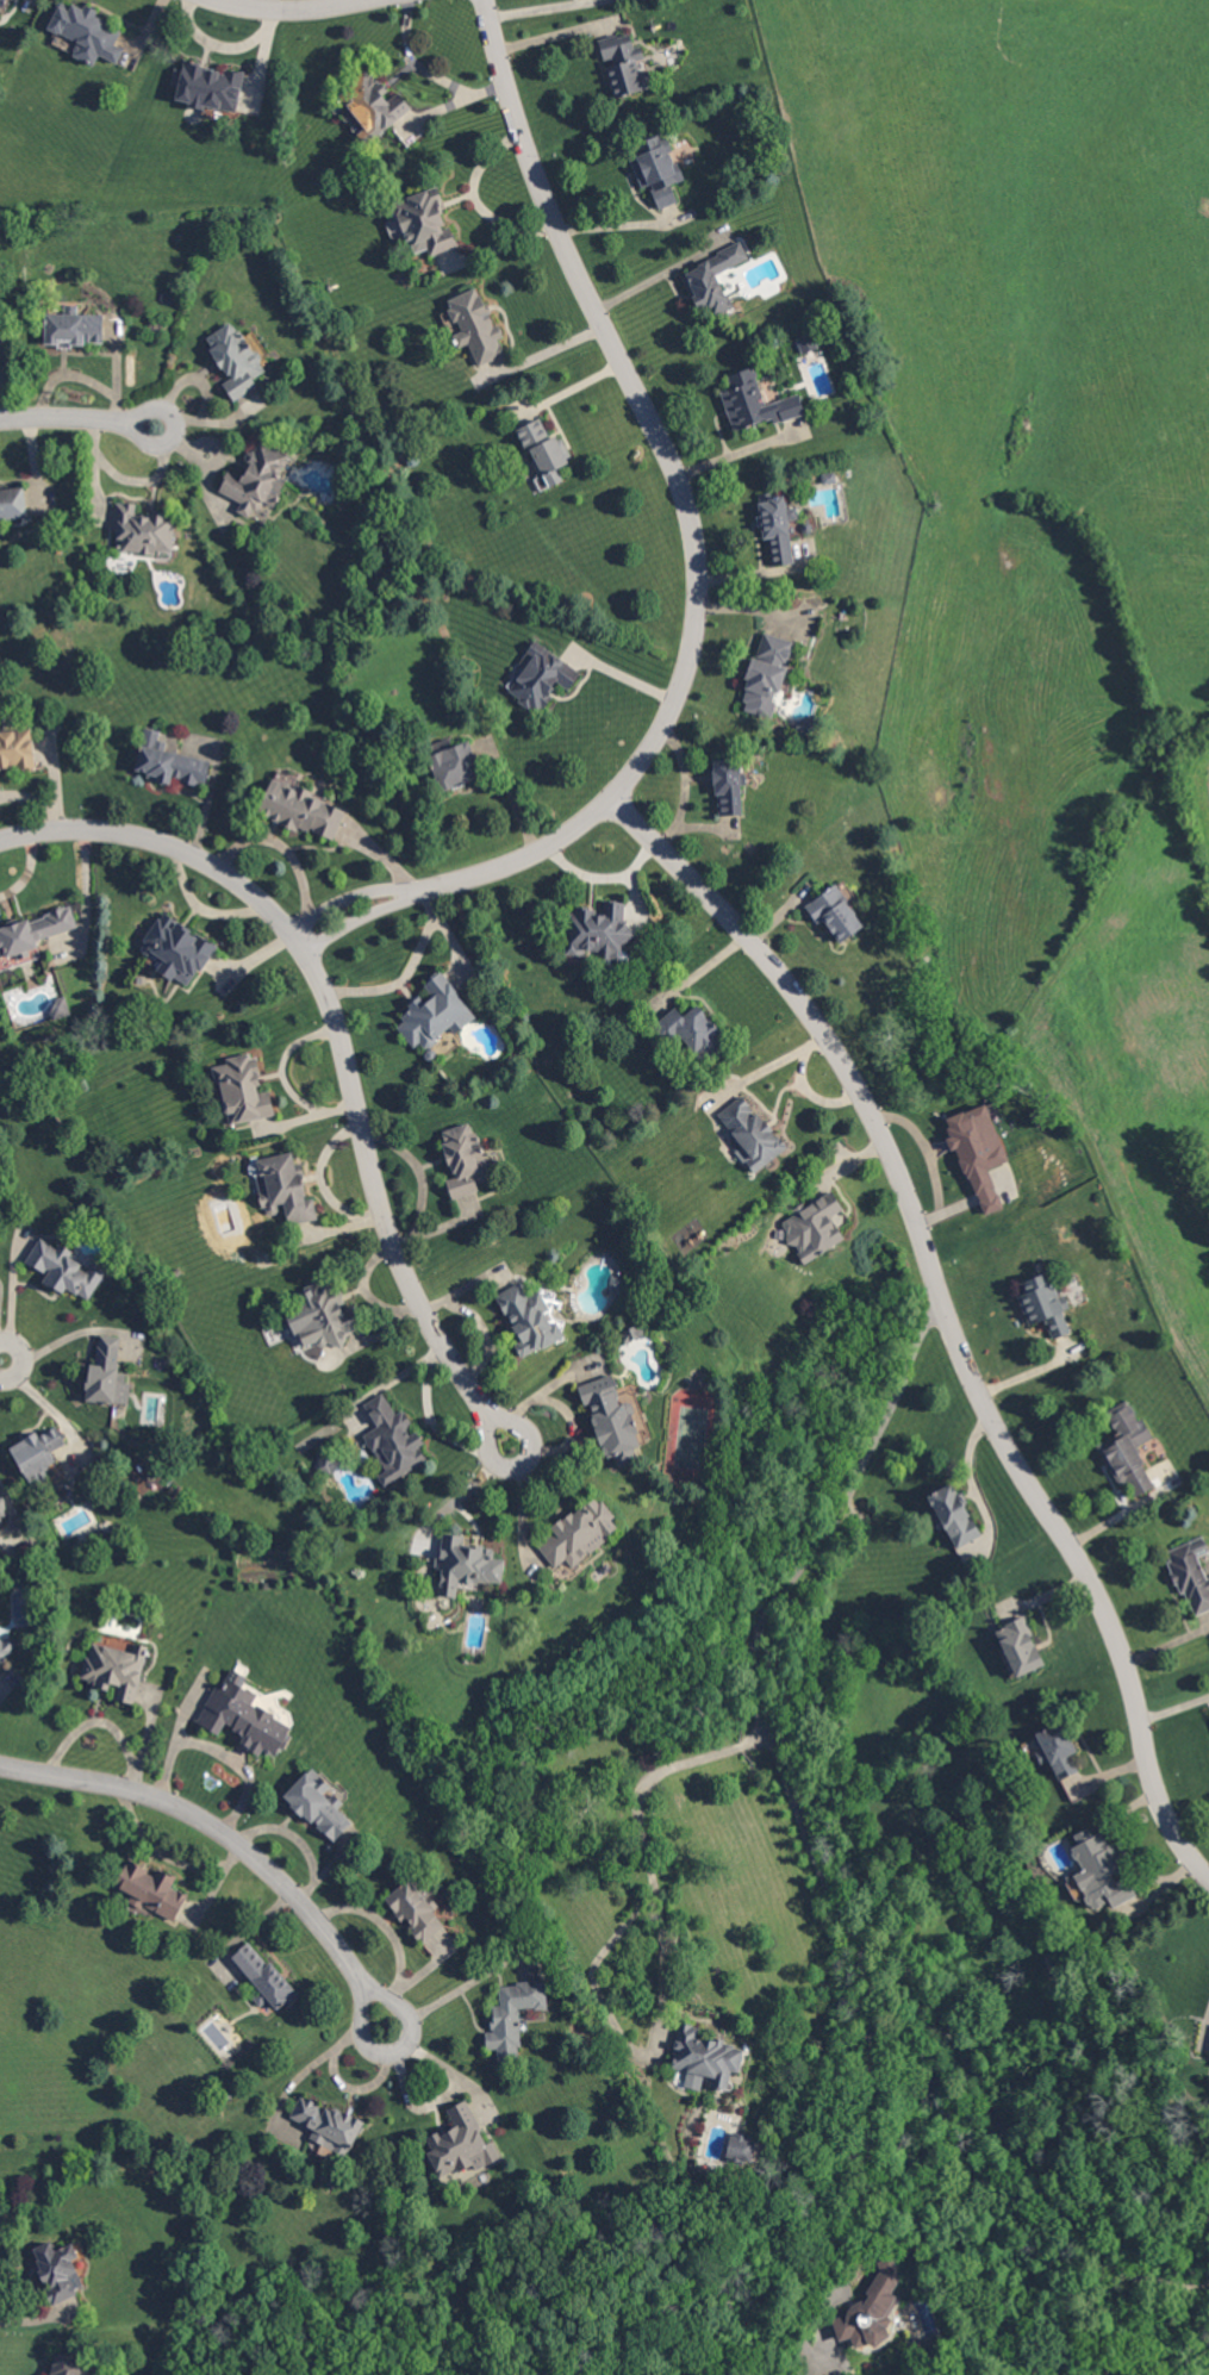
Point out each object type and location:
building: (2, 2)
road: (291, 12)
building: (86, 32)
building: (624, 64)
road: (428, 73)
building: (207, 86)
building: (373, 105)
building: (656, 169)
building: (424, 222)
road: (615, 227)
building: (712, 280)
building: (474, 324)
building: (74, 326)
building: (806, 342)
building: (235, 359)
building: (755, 401)
road: (61, 419)
road: (169, 443)
building: (543, 449)
building: (257, 478)
building: (12, 503)
road: (688, 525)
building: (778, 525)
building: (141, 529)
building: (767, 674)
building: (540, 675)
road: (630, 679)
building: (17, 750)
building: (163, 758)
building: (455, 765)
building: (162, 767)
building: (728, 786)
road: (38, 800)
building: (303, 808)
road: (364, 897)
building: (835, 912)
road: (334, 922)
building: (598, 930)
building: (32, 937)
building: (179, 950)
building: (61, 1010)
building: (436, 1012)
building: (691, 1030)
road: (825, 1036)
road: (343, 1039)
building: (431, 1056)
road: (767, 1066)
building: (244, 1090)
road: (812, 1092)
building: (750, 1133)
building: (978, 1153)
building: (466, 1160)
building: (287, 1189)
building: (808, 1240)
building: (66, 1268)
building: (179, 1273)
building: (619, 1284)
building: (1045, 1304)
building: (328, 1316)
building: (530, 1320)
building: (632, 1334)
road: (2, 1360)
building: (110, 1374)
road: (542, 1389)
building: (612, 1420)
road: (568, 1436)
building: (394, 1439)
building: (39, 1454)
building: (329, 1465)
building: (1127, 1466)
road: (972, 1484)
road: (461, 1494)
building: (2, 1510)
building: (958, 1516)
building: (116, 1532)
building: (580, 1533)
building: (0, 1535)
building: (467, 1566)
building: (1190, 1577)
building: (267, 1588)
road: (1101, 1592)
building: (1021, 1646)
building: (6, 1650)
building: (117, 1671)
road: (1172, 1707)
building: (245, 1718)
building: (1059, 1750)
building: (319, 1803)
road: (232, 1839)
road: (814, 1850)
building: (1101, 1871)
building: (152, 1890)
building: (417, 1908)
road: (662, 1953)
building: (267, 1978)
road: (450, 1995)
building: (515, 2019)
road: (1208, 2034)
building: (708, 2058)
road: (870, 2106)
building: (329, 2126)
building: (462, 2145)
building: (742, 2150)
building: (60, 2270)
building: (872, 2309)
building: (73, 2367)

